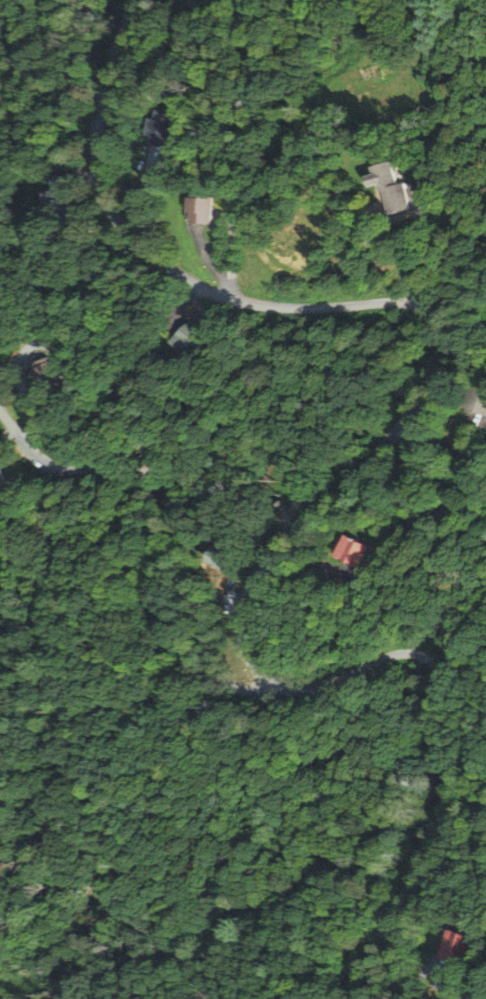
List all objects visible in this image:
building: (364, 70)
building: (161, 129)
road: (417, 161)
building: (391, 188)
road: (251, 197)
road: (339, 199)
building: (198, 207)
road: (202, 290)
building: (485, 315)
building: (187, 340)
building: (55, 377)
building: (475, 399)
road: (413, 519)
road: (173, 522)
building: (350, 553)
building: (207, 562)
road: (358, 672)
building: (453, 948)
road: (481, 985)

